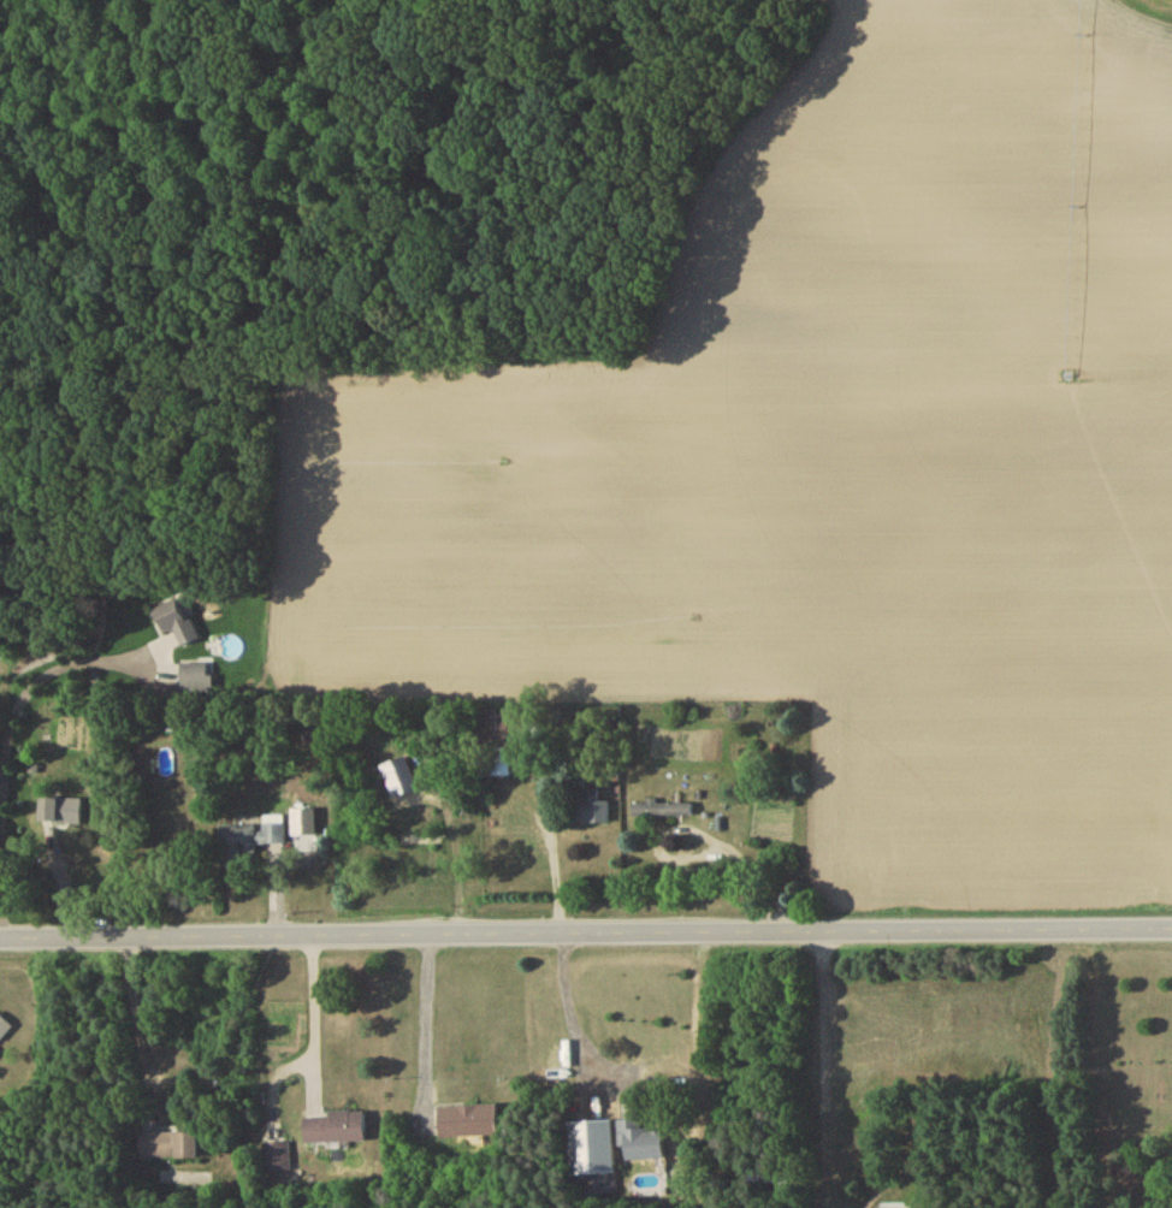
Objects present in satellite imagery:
building: (177, 624)
building: (194, 676)
road: (20, 687)
building: (499, 768)
building: (590, 810)
building: (662, 812)
building: (61, 813)
road: (698, 836)
building: (248, 841)
road: (585, 932)
road: (312, 1012)
road: (424, 1019)
road: (572, 1025)
building: (4, 1031)
road: (136, 1031)
building: (468, 1124)
building: (335, 1131)
building: (640, 1143)
building: (167, 1148)
building: (277, 1160)
building: (655, 1178)

